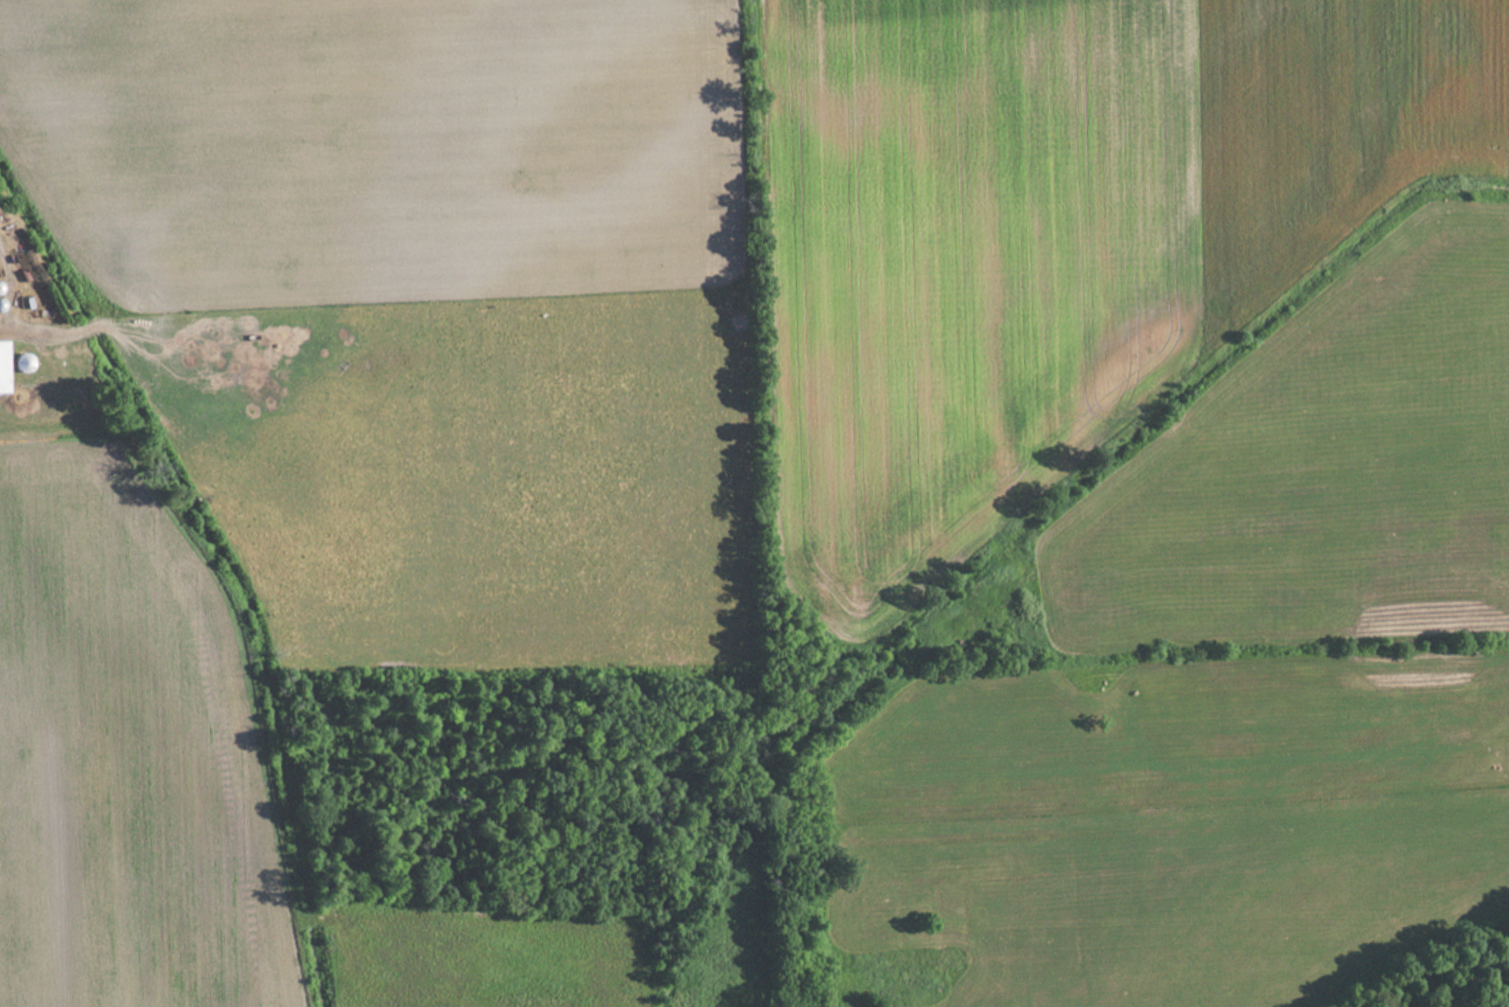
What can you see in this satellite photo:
building: (4, 367)

